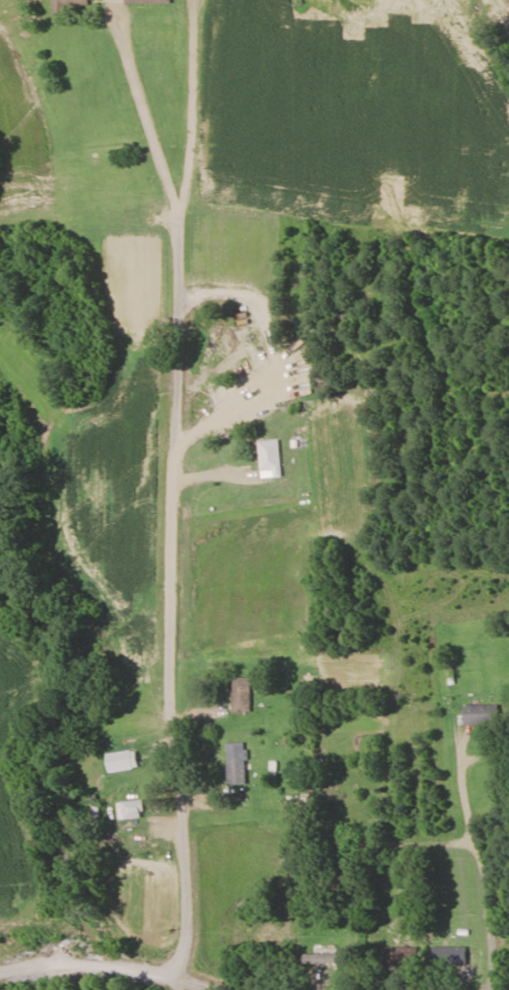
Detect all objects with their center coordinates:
building: (147, 2)
building: (68, 5)
building: (270, 455)
road: (179, 523)
building: (242, 695)
building: (481, 716)
building: (123, 762)
building: (237, 768)
building: (345, 797)
building: (132, 811)
building: (400, 956)
building: (449, 956)
building: (330, 957)
road: (117, 964)
building: (272, 968)

